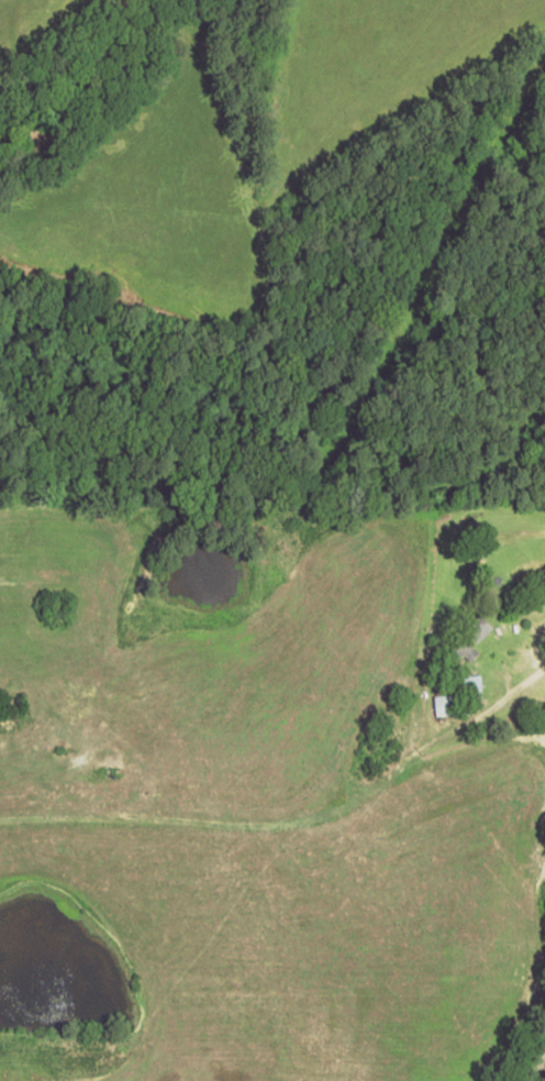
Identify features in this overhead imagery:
building: (468, 640)
building: (474, 686)
building: (445, 705)
road: (537, 1058)

